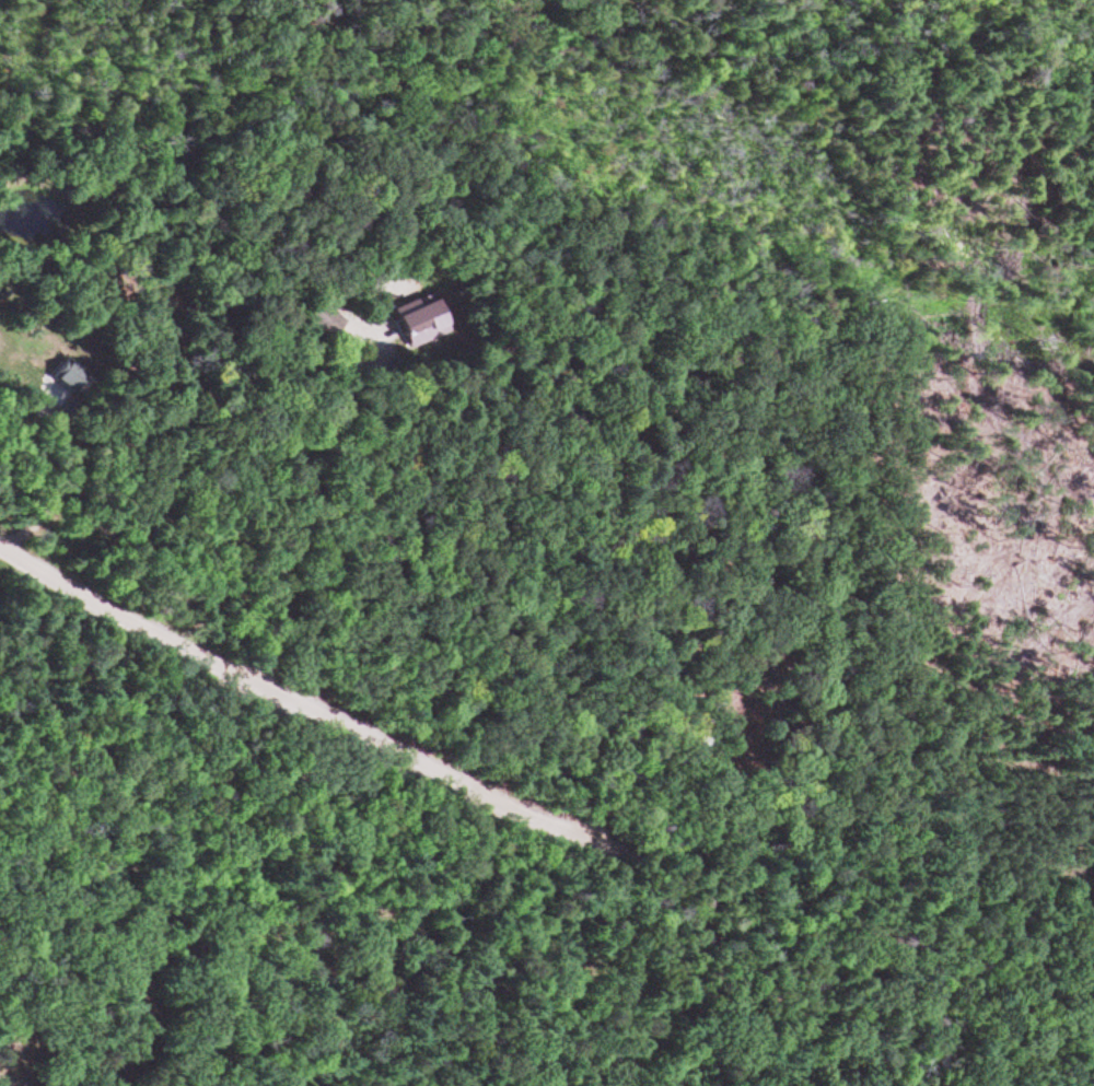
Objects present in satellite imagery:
building: (423, 324)
road: (146, 626)
road: (698, 843)

